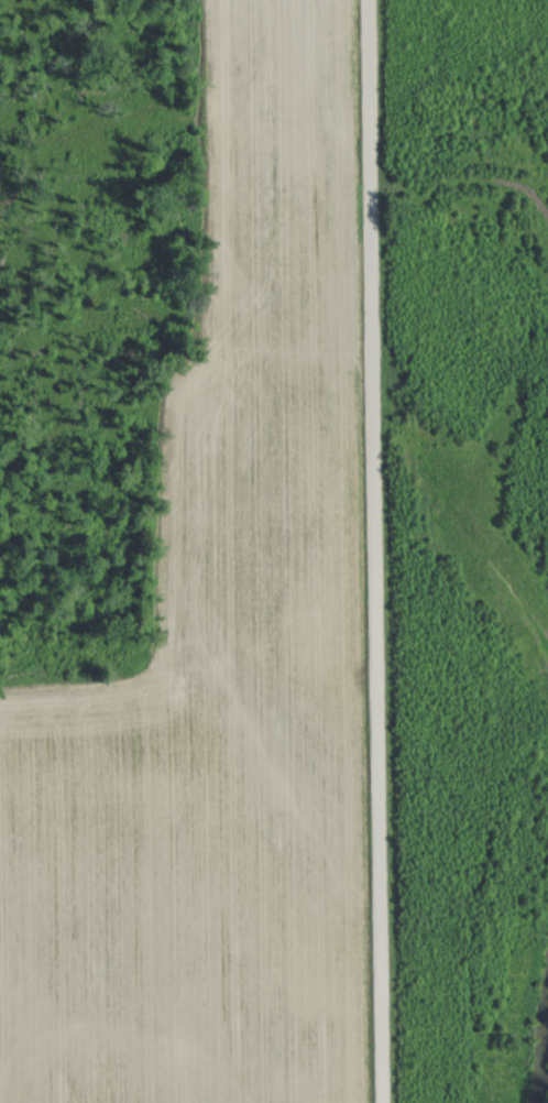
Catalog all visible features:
road: (366, 551)

